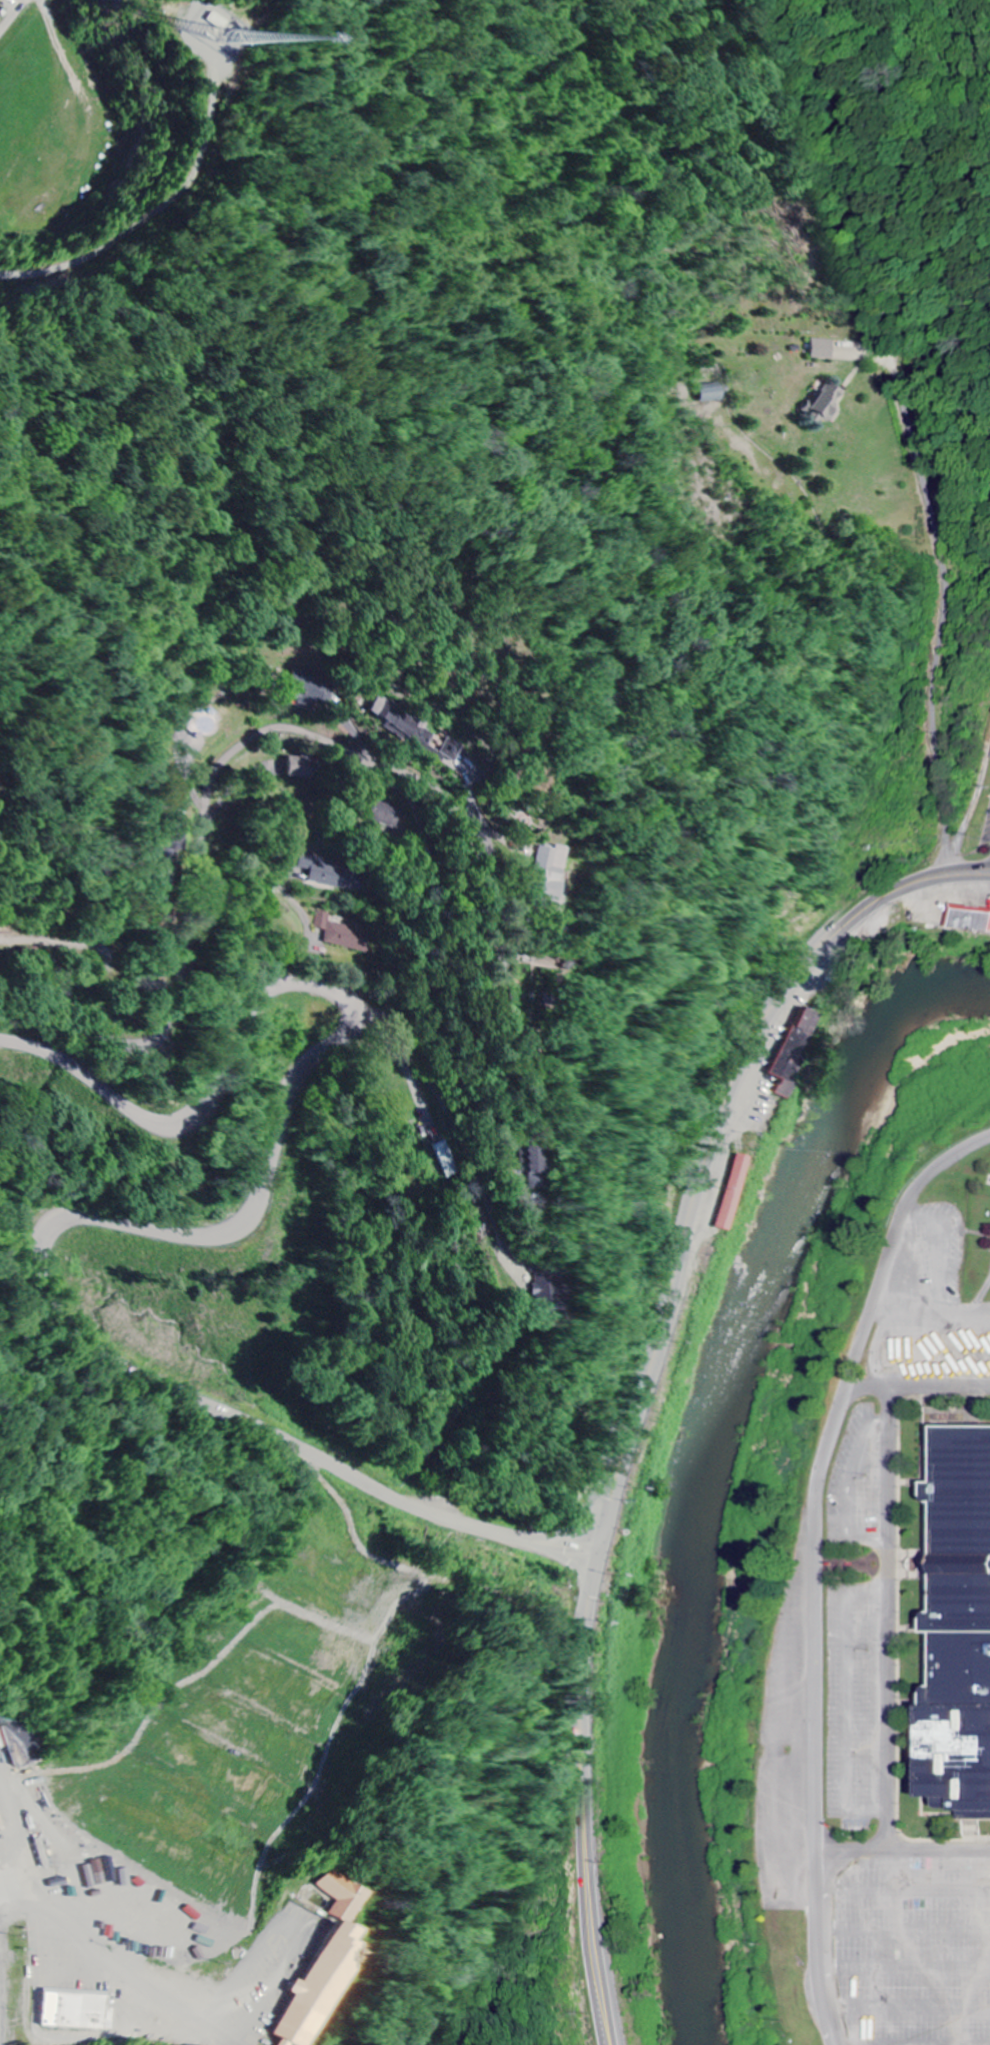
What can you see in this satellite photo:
road: (16, 17)
road: (160, 209)
building: (825, 349)
building: (716, 393)
building: (827, 402)
road: (942, 608)
building: (309, 687)
building: (405, 726)
building: (452, 750)
building: (301, 769)
road: (974, 812)
building: (387, 815)
road: (203, 834)
building: (551, 871)
building: (336, 874)
building: (971, 919)
building: (341, 934)
road: (309, 938)
building: (794, 1049)
road: (451, 1115)
building: (445, 1159)
building: (528, 1166)
building: (734, 1192)
road: (153, 1229)
building: (542, 1284)
road: (648, 1385)
river: (708, 1460)
road: (354, 1525)
road: (814, 1563)
building: (965, 1626)
building: (22, 1743)
road: (879, 1853)
road: (967, 1854)
road: (127, 1964)
building: (326, 1966)

